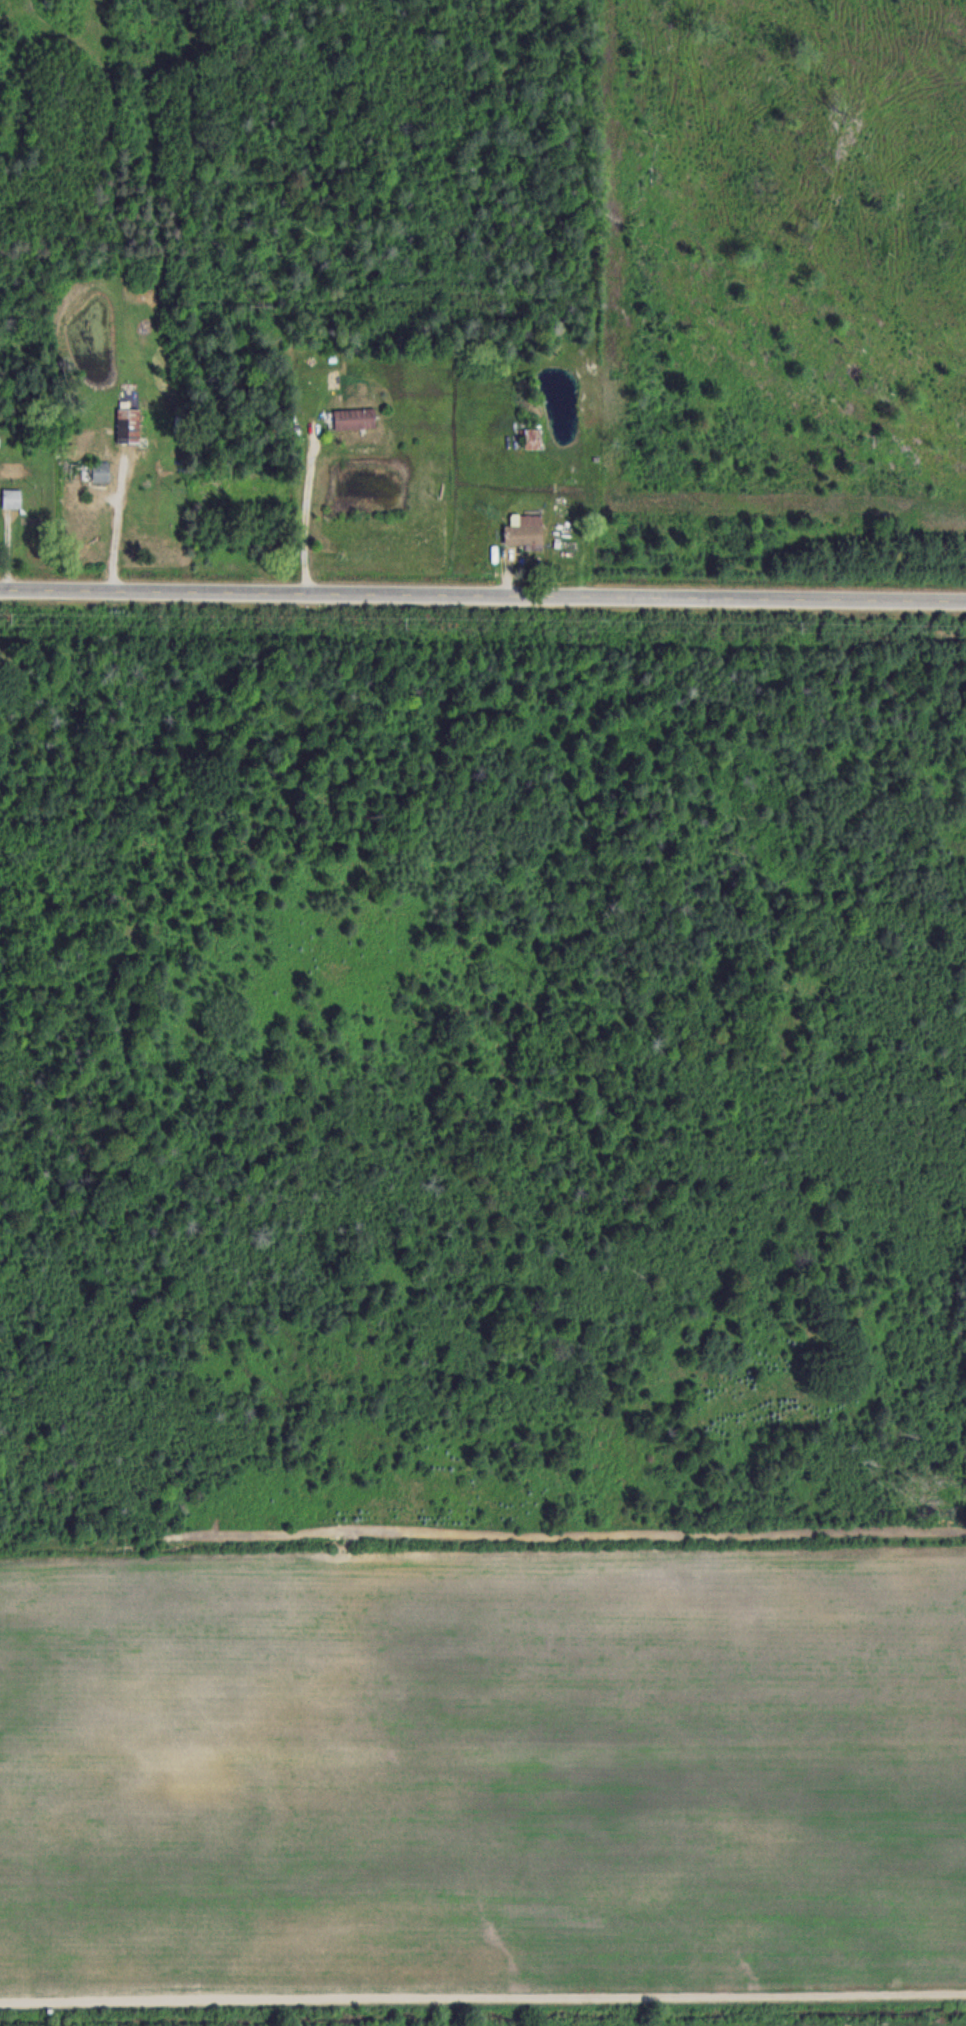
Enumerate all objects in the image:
building: (353, 418)
building: (127, 425)
building: (531, 438)
building: (86, 472)
building: (11, 498)
road: (313, 508)
road: (122, 524)
building: (523, 531)
road: (482, 596)

